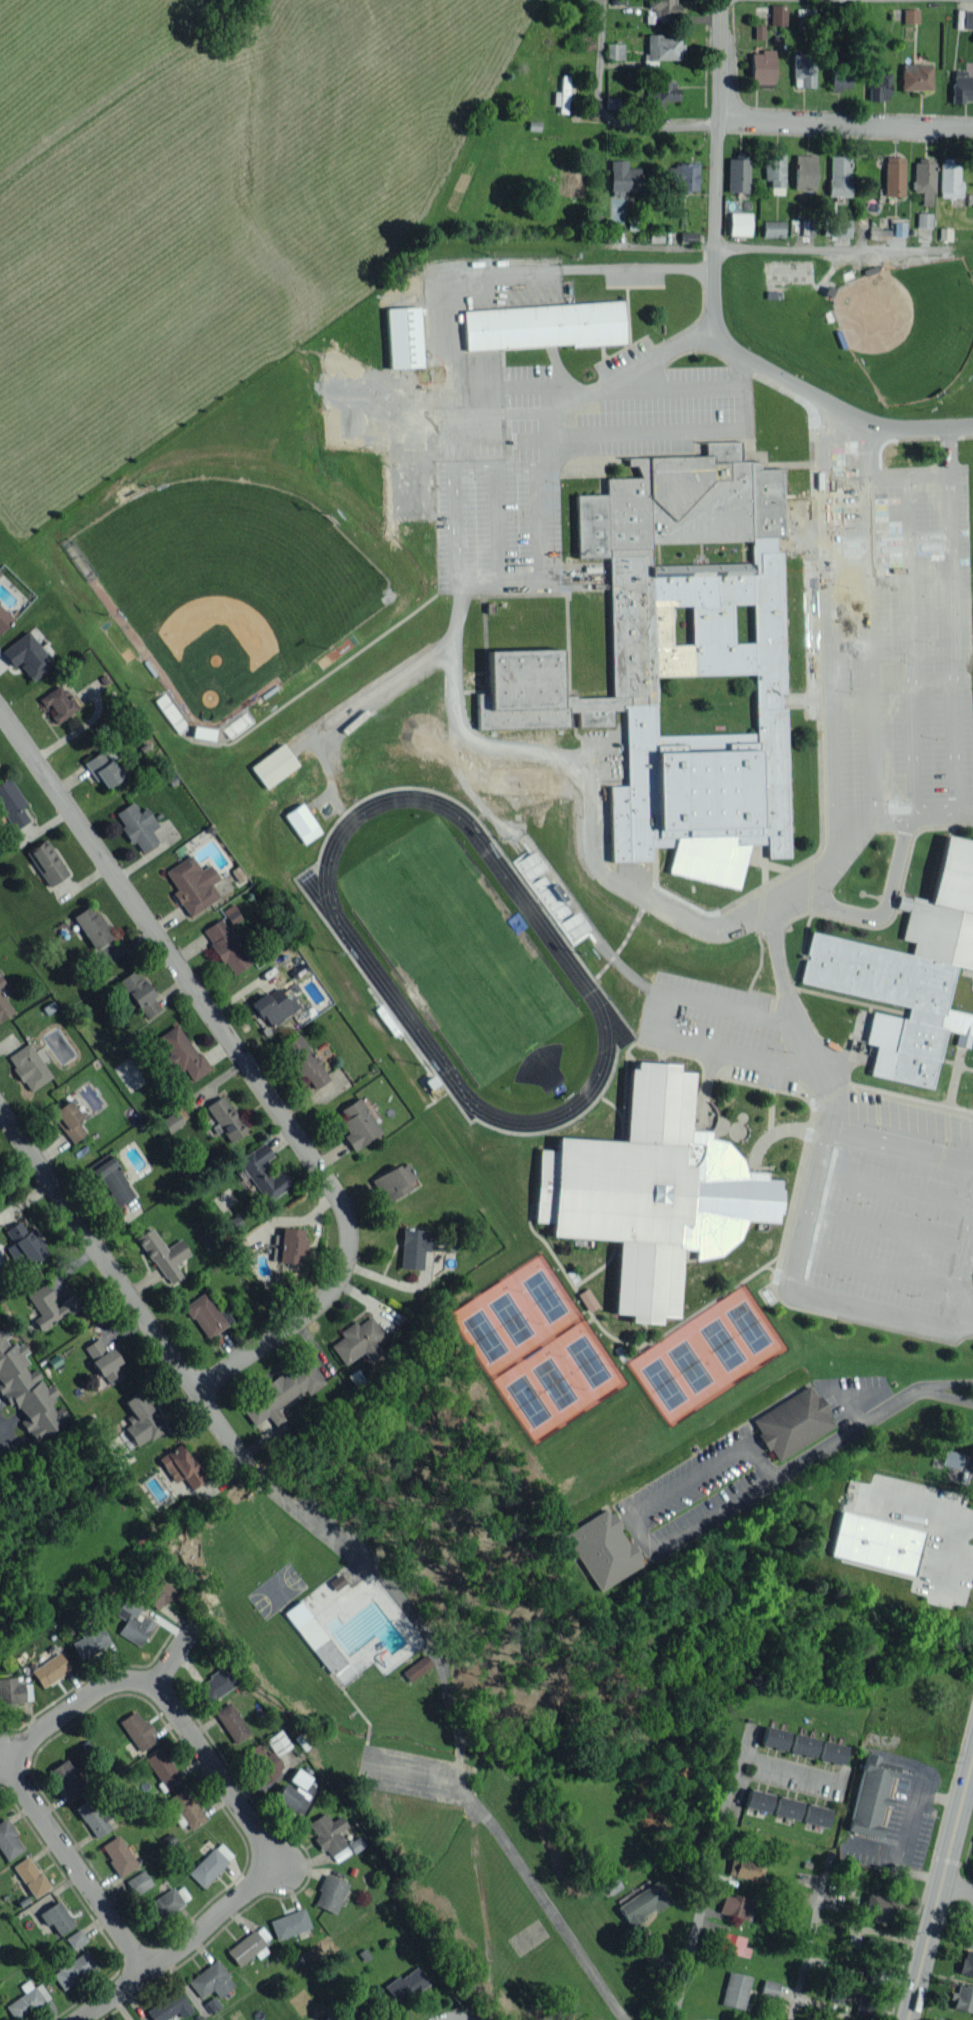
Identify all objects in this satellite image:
building: (663, 7)
building: (777, 14)
building: (807, 15)
building: (967, 19)
building: (758, 31)
building: (663, 47)
building: (615, 51)
building: (762, 65)
building: (803, 68)
building: (839, 74)
building: (915, 76)
building: (878, 85)
building: (962, 86)
building: (661, 93)
building: (563, 94)
road: (604, 114)
road: (844, 121)
road: (713, 167)
building: (774, 173)
building: (804, 173)
building: (737, 174)
building: (682, 175)
building: (839, 175)
building: (622, 177)
building: (893, 177)
building: (949, 177)
building: (924, 179)
building: (923, 220)
building: (739, 223)
building: (839, 227)
building: (773, 228)
road: (773, 247)
building: (544, 325)
park: (909, 325)
building: (403, 337)
road: (588, 396)
road: (834, 406)
road: (904, 474)
park: (225, 584)
road: (461, 602)
building: (4, 618)
road: (825, 629)
parking lot: (900, 631)
road: (867, 645)
building: (26, 655)
building: (673, 659)
road: (384, 691)
building: (58, 703)
building: (273, 765)
building: (102, 767)
road: (952, 800)
building: (11, 804)
road: (848, 811)
building: (301, 823)
building: (137, 825)
building: (46, 862)
road: (890, 878)
building: (192, 884)
road: (657, 906)
building: (91, 926)
building: (221, 943)
park: (460, 951)
road: (367, 961)
track: (367, 961)
building: (908, 969)
building: (1, 981)
building: (137, 990)
building: (271, 1006)
building: (4, 1008)
road: (792, 1020)
road: (651, 1025)
parking lot: (730, 1026)
building: (179, 1052)
building: (301, 1059)
building: (29, 1065)
road: (246, 1065)
building: (222, 1117)
building: (68, 1120)
building: (171, 1121)
building: (355, 1122)
road: (898, 1144)
building: (263, 1173)
building: (110, 1179)
building: (393, 1180)
road: (892, 1189)
building: (649, 1190)
parking lot: (882, 1214)
road: (883, 1227)
building: (22, 1245)
building: (289, 1245)
building: (412, 1248)
building: (163, 1254)
road: (876, 1266)
road: (964, 1293)
building: (585, 1297)
road: (844, 1302)
building: (49, 1306)
building: (204, 1315)
park: (515, 1315)
road: (961, 1319)
building: (358, 1340)
road: (163, 1343)
park: (707, 1356)
building: (103, 1361)
park: (558, 1382)
road: (950, 1382)
building: (27, 1389)
building: (281, 1393)
road: (949, 1396)
road: (853, 1407)
building: (141, 1419)
building: (793, 1422)
building: (971, 1447)
building: (950, 1458)
building: (180, 1466)
road: (703, 1474)
building: (875, 1543)
building: (602, 1549)
building: (155, 1590)
building: (132, 1622)
building: (89, 1642)
road: (165, 1659)
building: (416, 1667)
building: (51, 1669)
building: (215, 1684)
building: (14, 1690)
road: (75, 1703)
building: (231, 1722)
building: (137, 1730)
building: (774, 1737)
building: (277, 1742)
building: (803, 1745)
road: (970, 1751)
building: (831, 1752)
building: (262, 1761)
road: (790, 1767)
building: (162, 1768)
road: (968, 1776)
building: (66, 1778)
building: (293, 1791)
building: (871, 1795)
building: (757, 1800)
building: (187, 1807)
building: (786, 1807)
building: (815, 1814)
building: (91, 1818)
building: (328, 1835)
building: (8, 1840)
building: (118, 1855)
road: (70, 1864)
building: (209, 1864)
road: (521, 1868)
building: (744, 1868)
road: (711, 1874)
building: (30, 1876)
road: (264, 1876)
building: (138, 1882)
building: (611, 1884)
road: (934, 1891)
building: (330, 1893)
building: (642, 1903)
building: (162, 1904)
building: (733, 1905)
building: (882, 1908)
building: (55, 1917)
building: (289, 1923)
road: (820, 1924)
building: (970, 1936)
building: (75, 1938)
building: (852, 1941)
building: (731, 1944)
building: (246, 1948)
building: (966, 1963)
building: (73, 1969)
building: (210, 1980)
building: (405, 1985)
building: (769, 1988)
building: (735, 1989)
building: (835, 1994)
building: (963, 1997)
building: (27, 2001)
building: (168, 2006)
building: (869, 2006)
building: (347, 2017)
building: (951, 2019)

